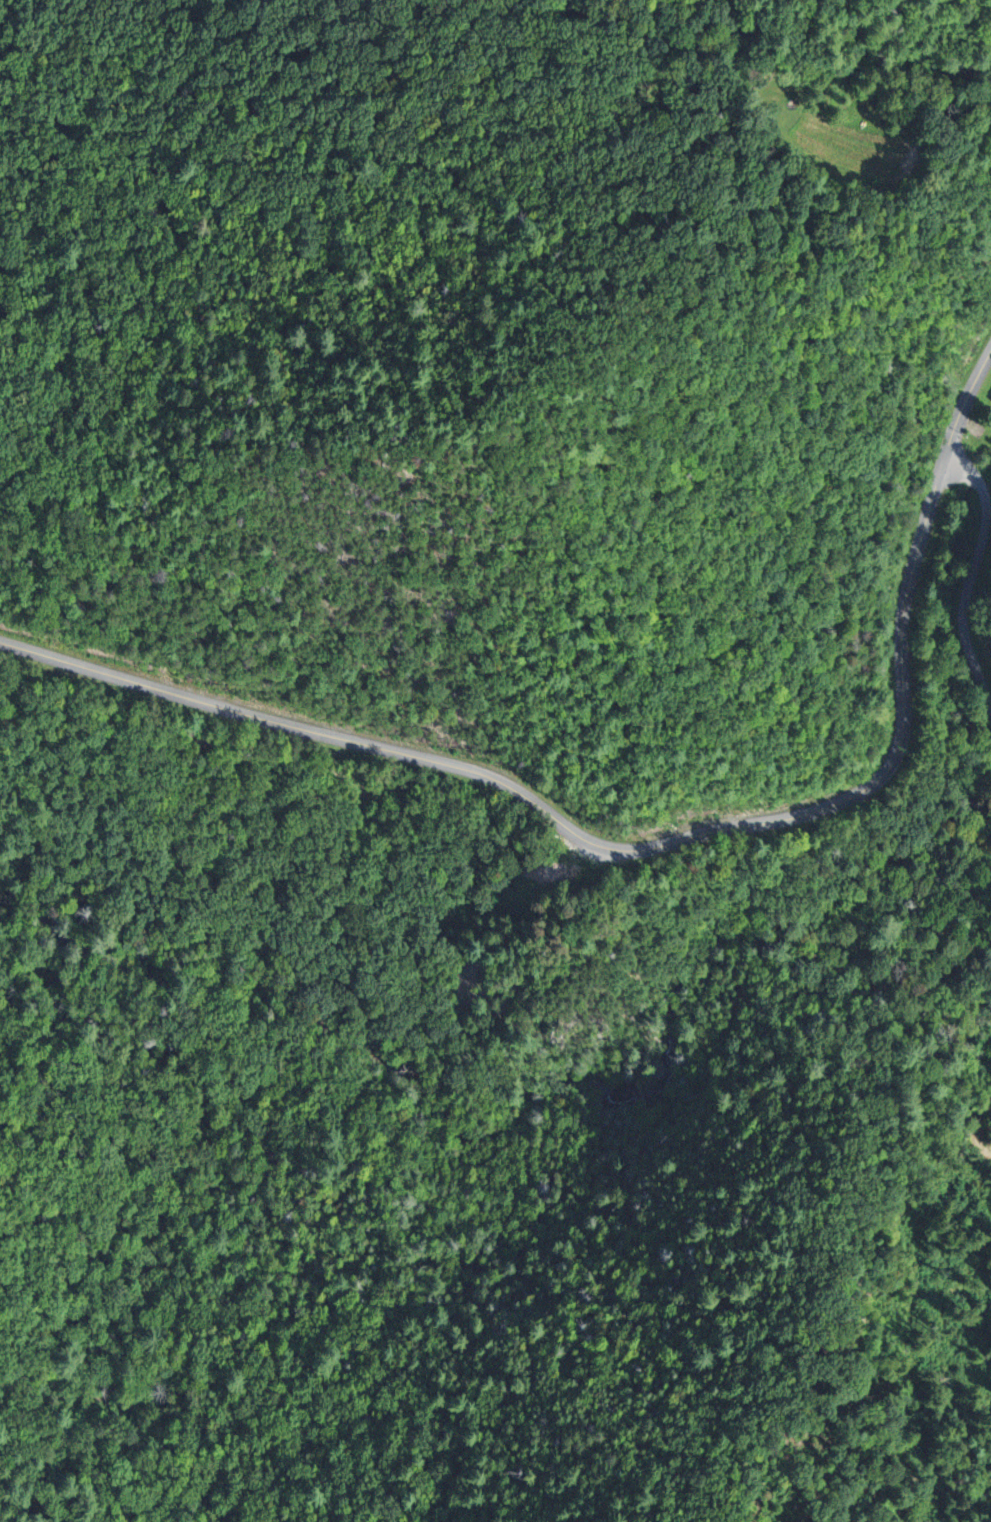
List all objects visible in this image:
road: (974, 566)
road: (651, 847)

